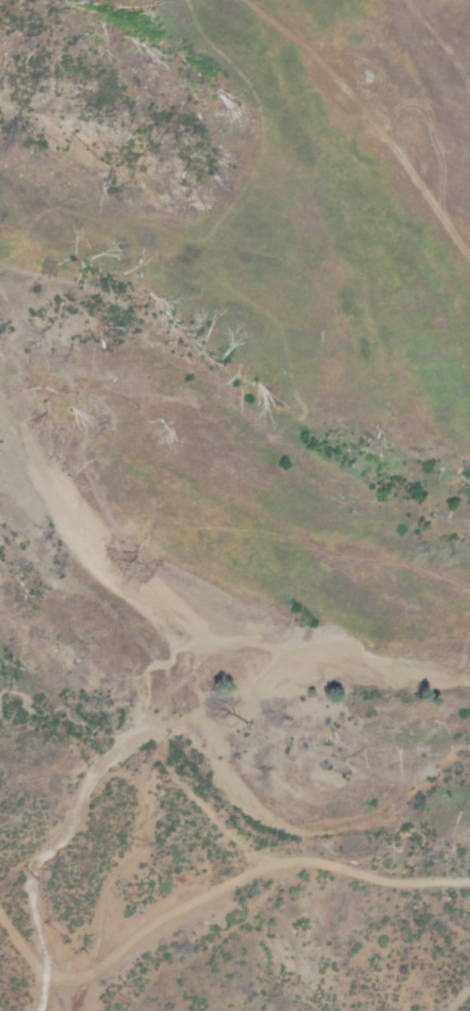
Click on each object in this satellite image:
road: (219, 890)
road: (439, 913)
road: (458, 1000)

